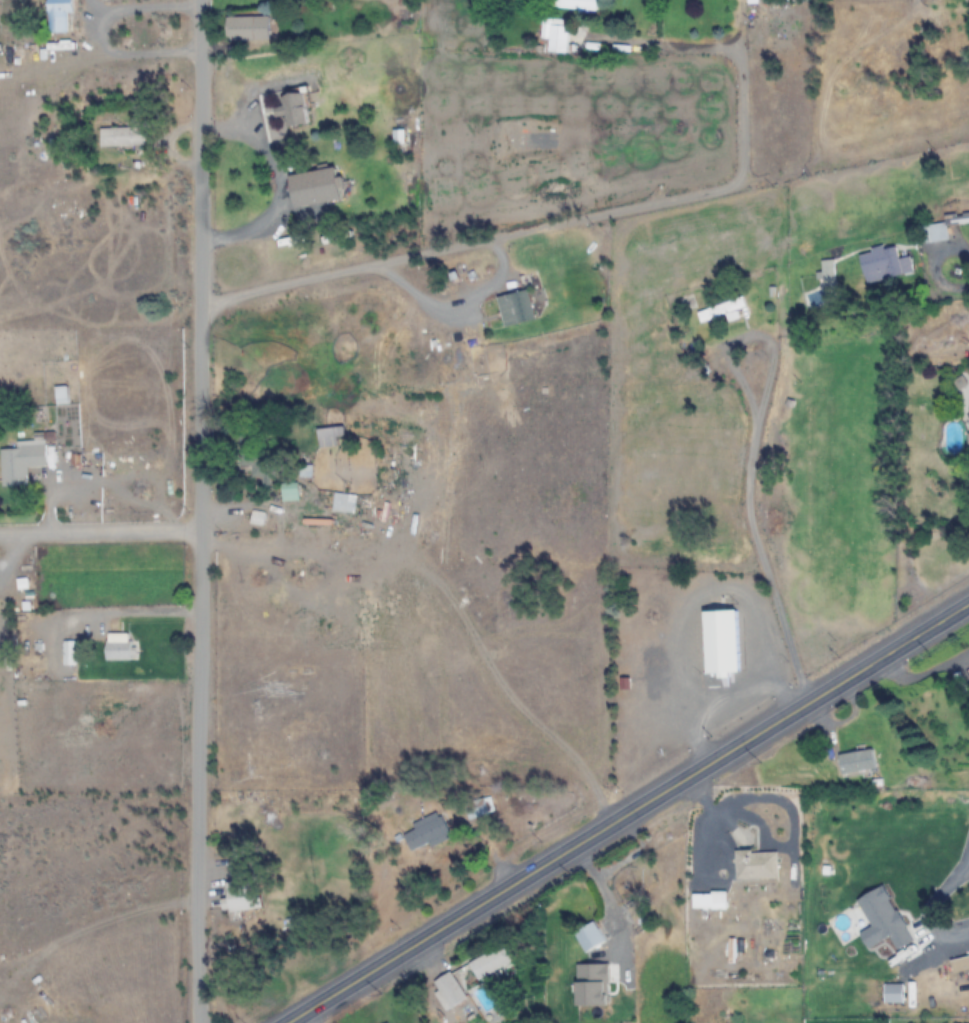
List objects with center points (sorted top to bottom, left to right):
building: (753, 1)
building: (574, 5)
building: (58, 16)
building: (247, 29)
building: (564, 38)
building: (294, 109)
building: (123, 136)
building: (400, 136)
building: (956, 219)
road: (538, 230)
building: (880, 262)
building: (522, 306)
building: (725, 310)
building: (63, 394)
building: (331, 436)
building: (257, 453)
building: (20, 462)
road: (197, 511)
road: (98, 533)
road: (780, 610)
building: (721, 642)
building: (119, 646)
building: (856, 761)
building: (483, 806)
road: (629, 812)
building: (426, 831)
building: (757, 864)
building: (630, 876)
crop: (742, 882)
building: (241, 896)
building: (590, 936)
building: (954, 952)
building: (492, 961)
building: (450, 990)
building: (388, 1022)

